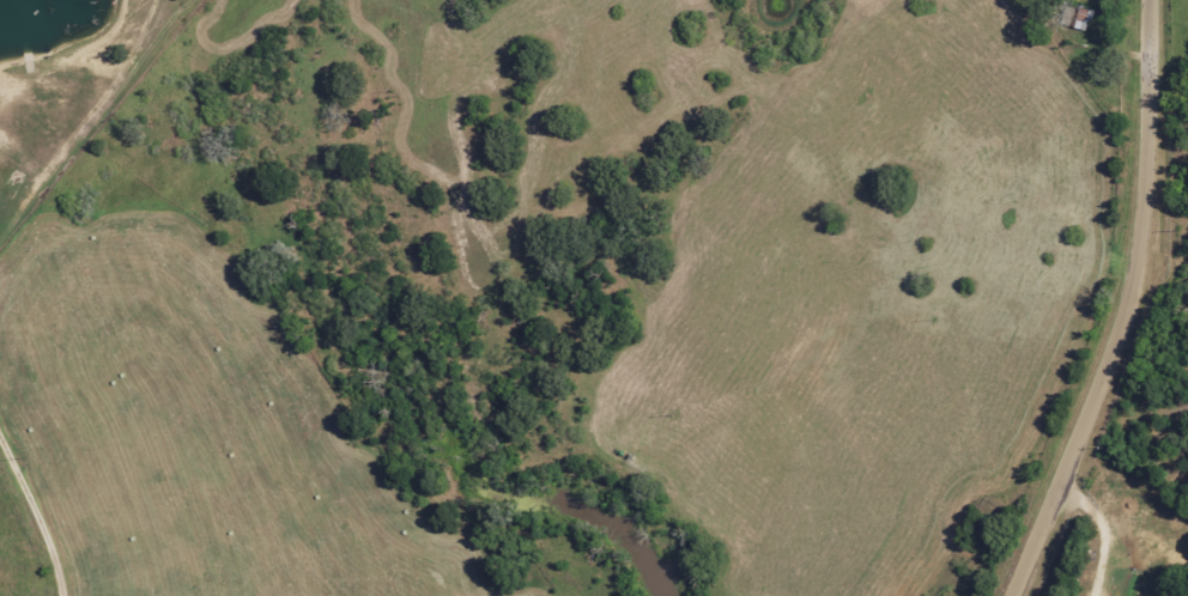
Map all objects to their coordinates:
road: (1117, 303)

